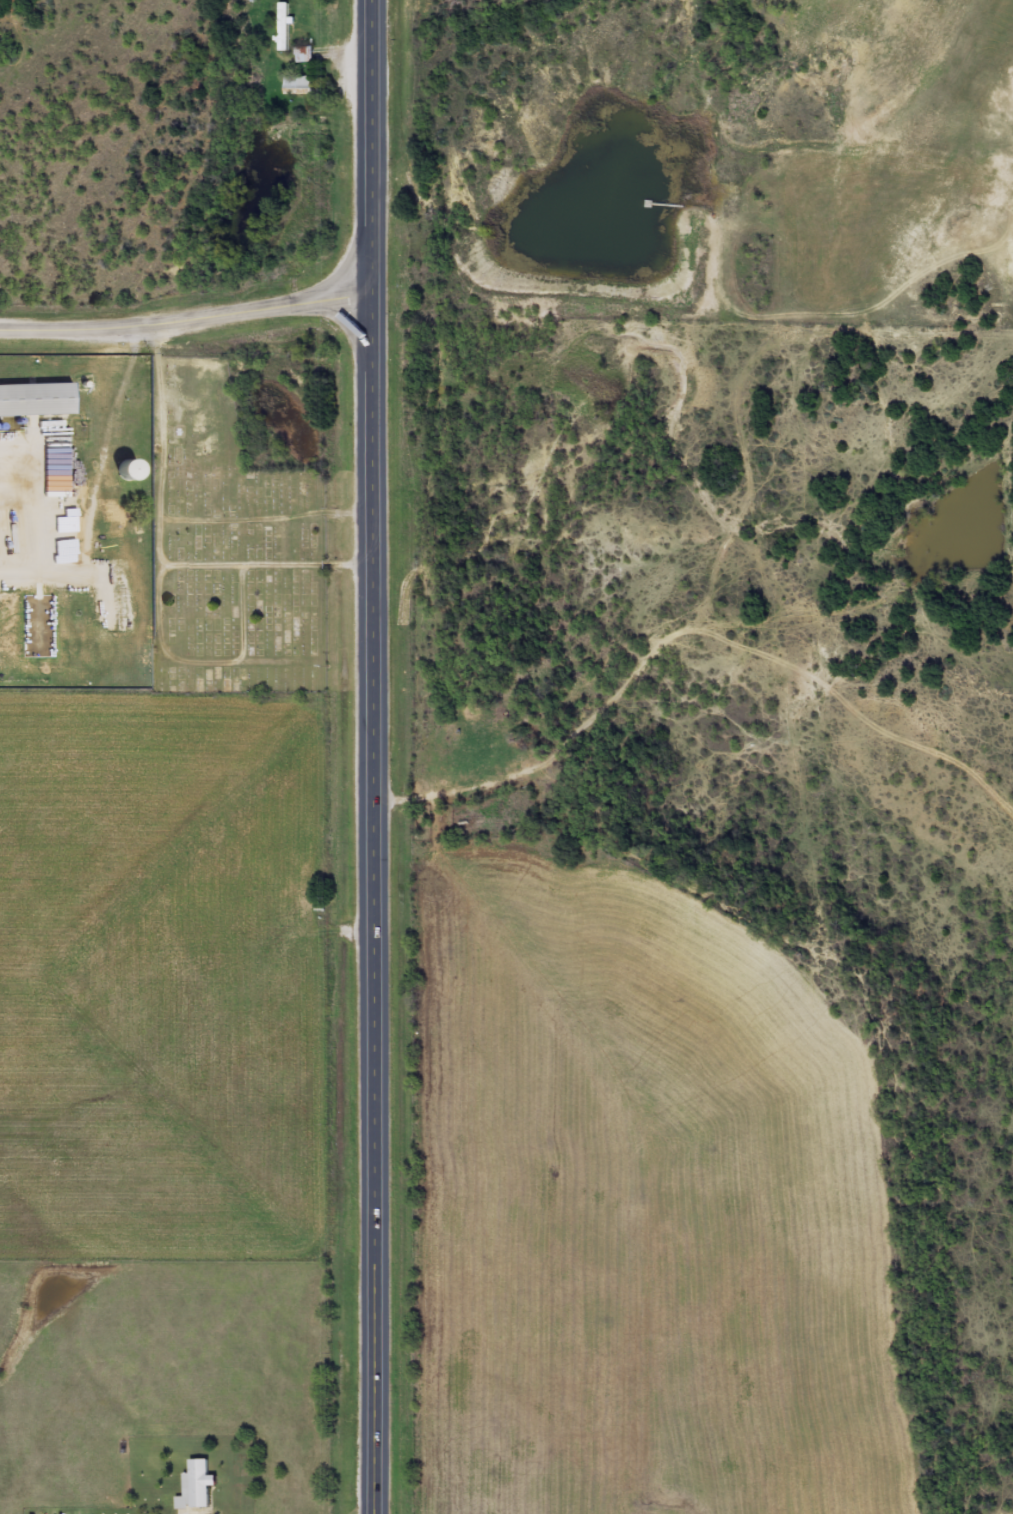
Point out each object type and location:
building: (284, 25)
building: (305, 53)
building: (299, 84)
road: (373, 147)
road: (187, 318)
building: (38, 399)
park: (228, 546)
road: (373, 904)
building: (197, 1486)

